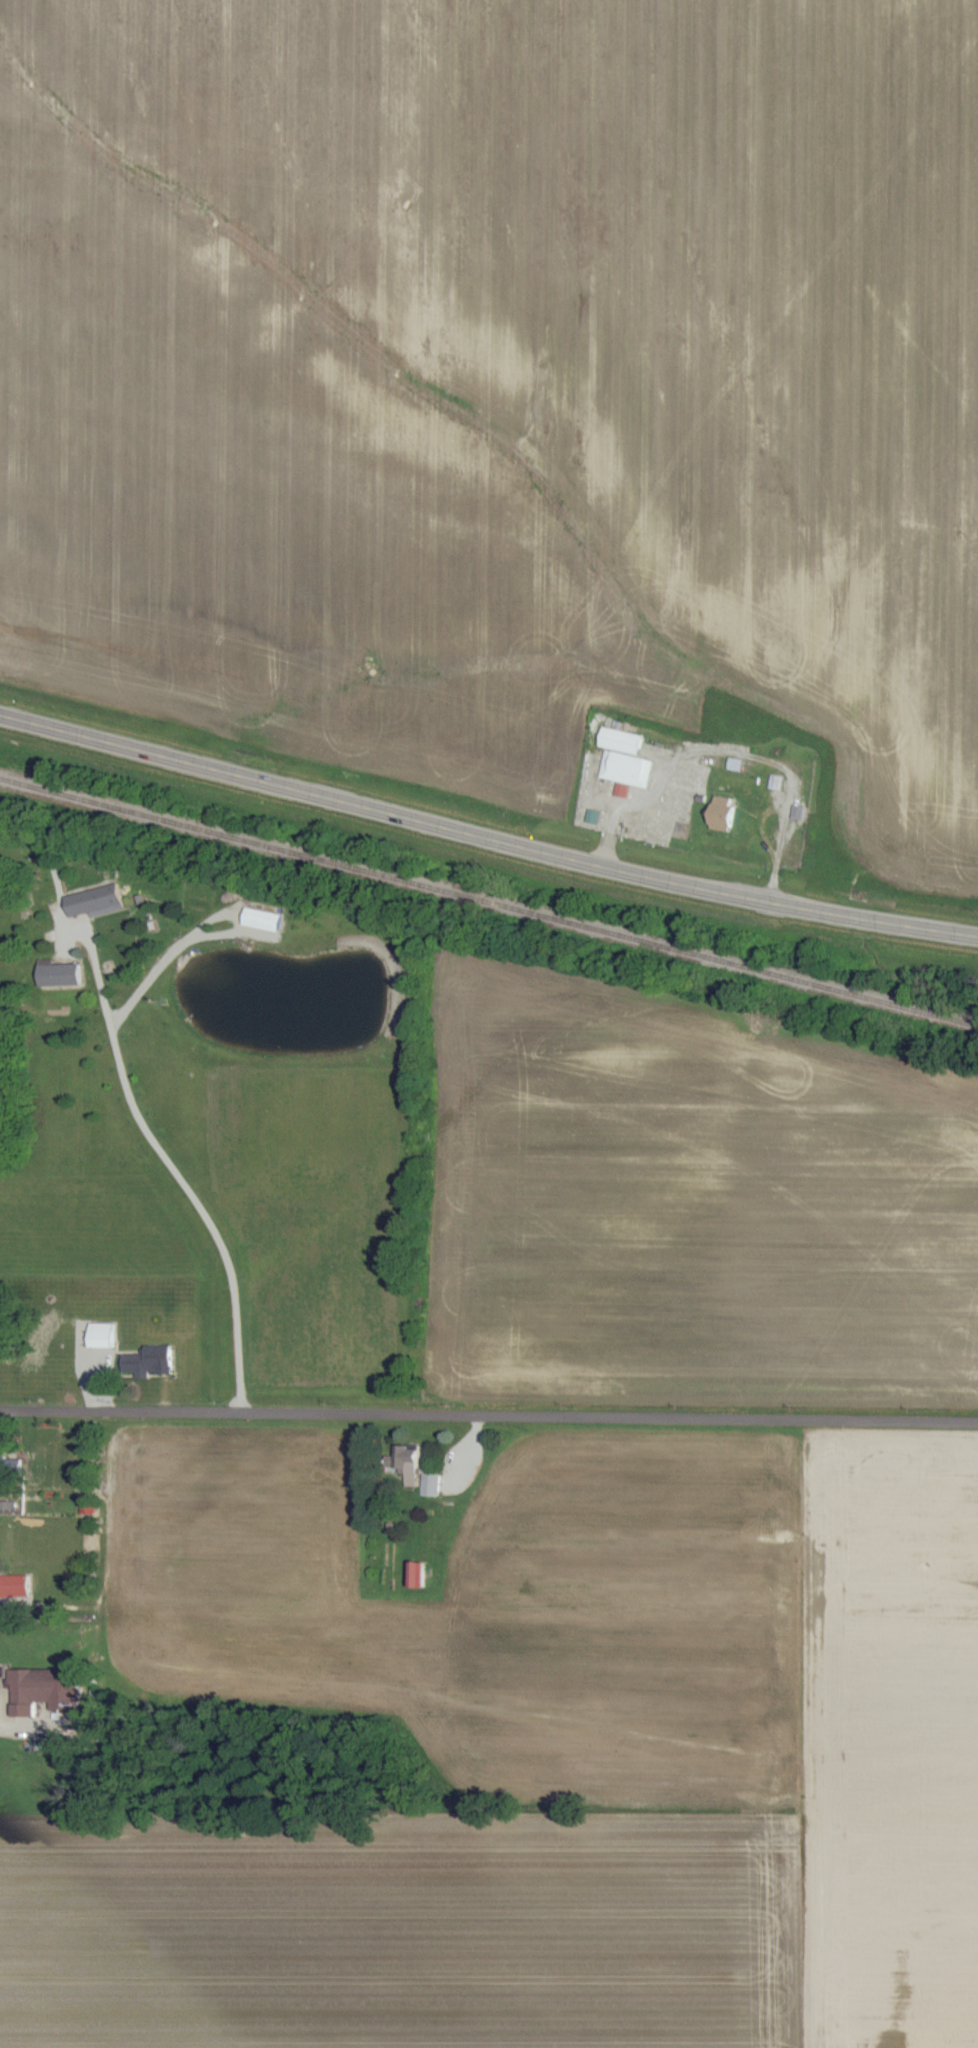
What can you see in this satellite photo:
building: (621, 759)
building: (774, 782)
building: (719, 813)
road: (486, 843)
building: (89, 901)
railway: (488, 912)
building: (257, 919)
building: (54, 973)
road: (168, 1164)
building: (96, 1335)
building: (136, 1362)
road: (489, 1416)
building: (400, 1459)
building: (8, 1464)
building: (427, 1484)
building: (413, 1575)
building: (11, 1585)
building: (40, 1690)
road: (18, 1734)

